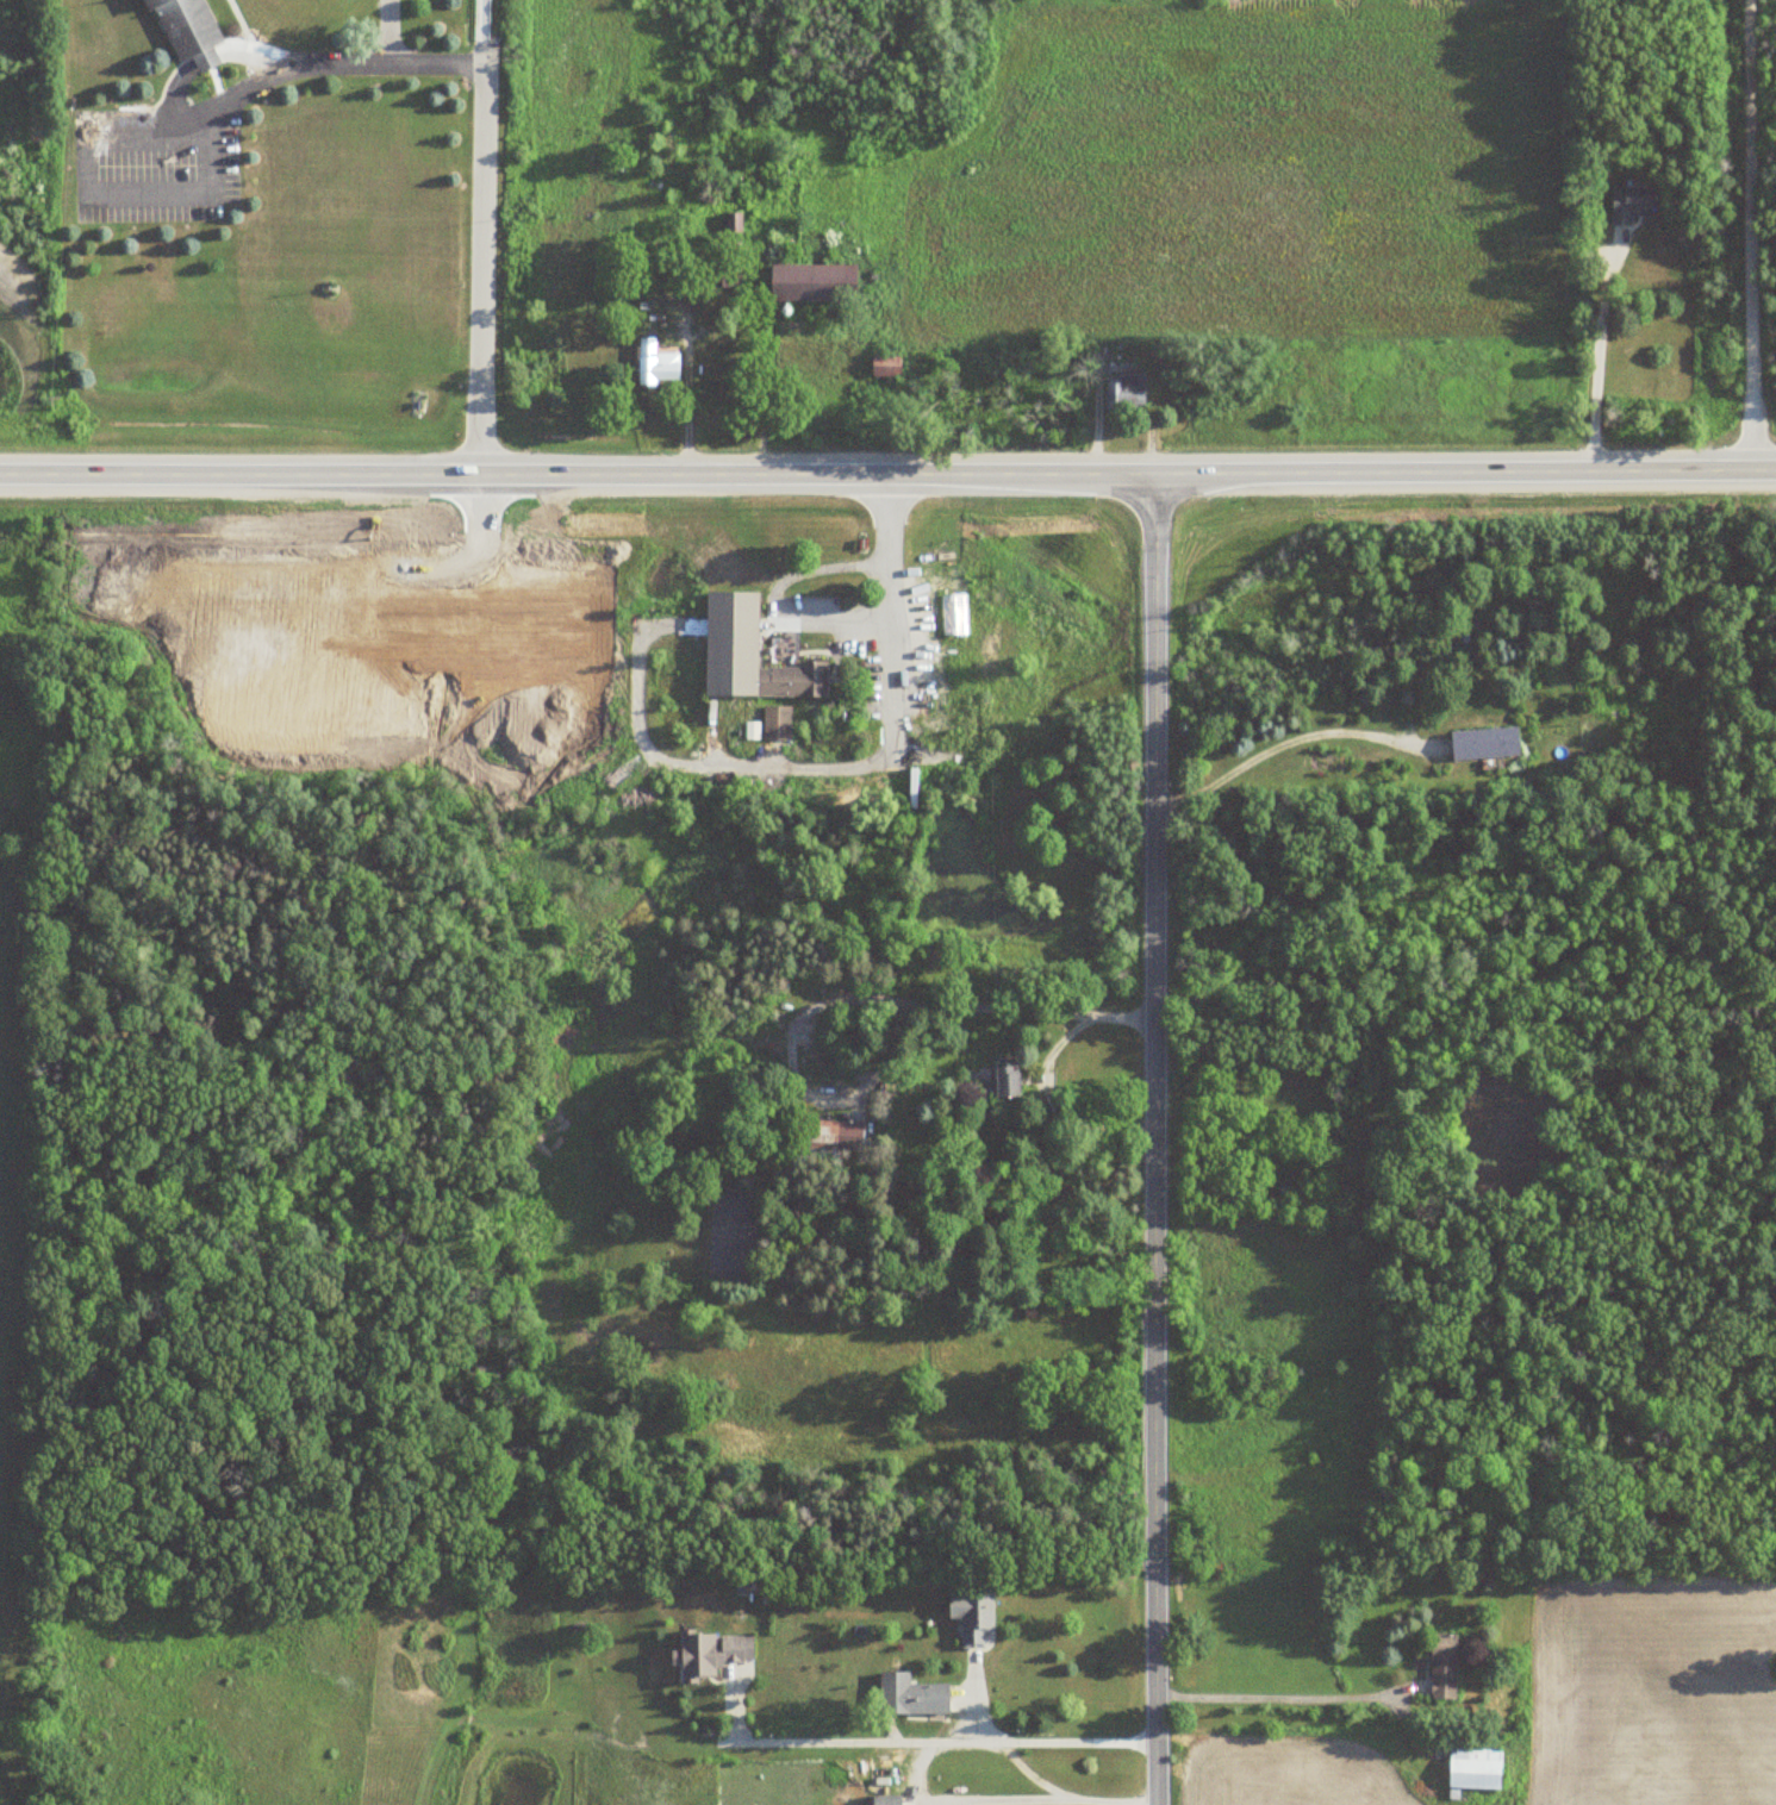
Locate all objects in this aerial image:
road: (484, 11)
building: (189, 24)
road: (243, 24)
road: (387, 30)
road: (206, 55)
road: (332, 61)
road: (185, 117)
parking lot: (154, 160)
road: (106, 196)
building: (1632, 202)
building: (734, 227)
road: (1752, 236)
road: (481, 268)
building: (812, 282)
building: (656, 363)
road: (1596, 366)
building: (1634, 382)
building: (1126, 393)
road: (887, 474)
road: (827, 613)
building: (954, 613)
building: (749, 652)
building: (778, 729)
road: (1288, 741)
building: (1484, 743)
road: (841, 764)
road: (1042, 1073)
building: (1003, 1082)
building: (828, 1133)
road: (1155, 1139)
building: (972, 1617)
building: (710, 1654)
building: (1442, 1667)
building: (910, 1697)
road: (1285, 1698)
road: (943, 1743)
building: (1473, 1768)
road: (1055, 1791)
building: (885, 1795)

